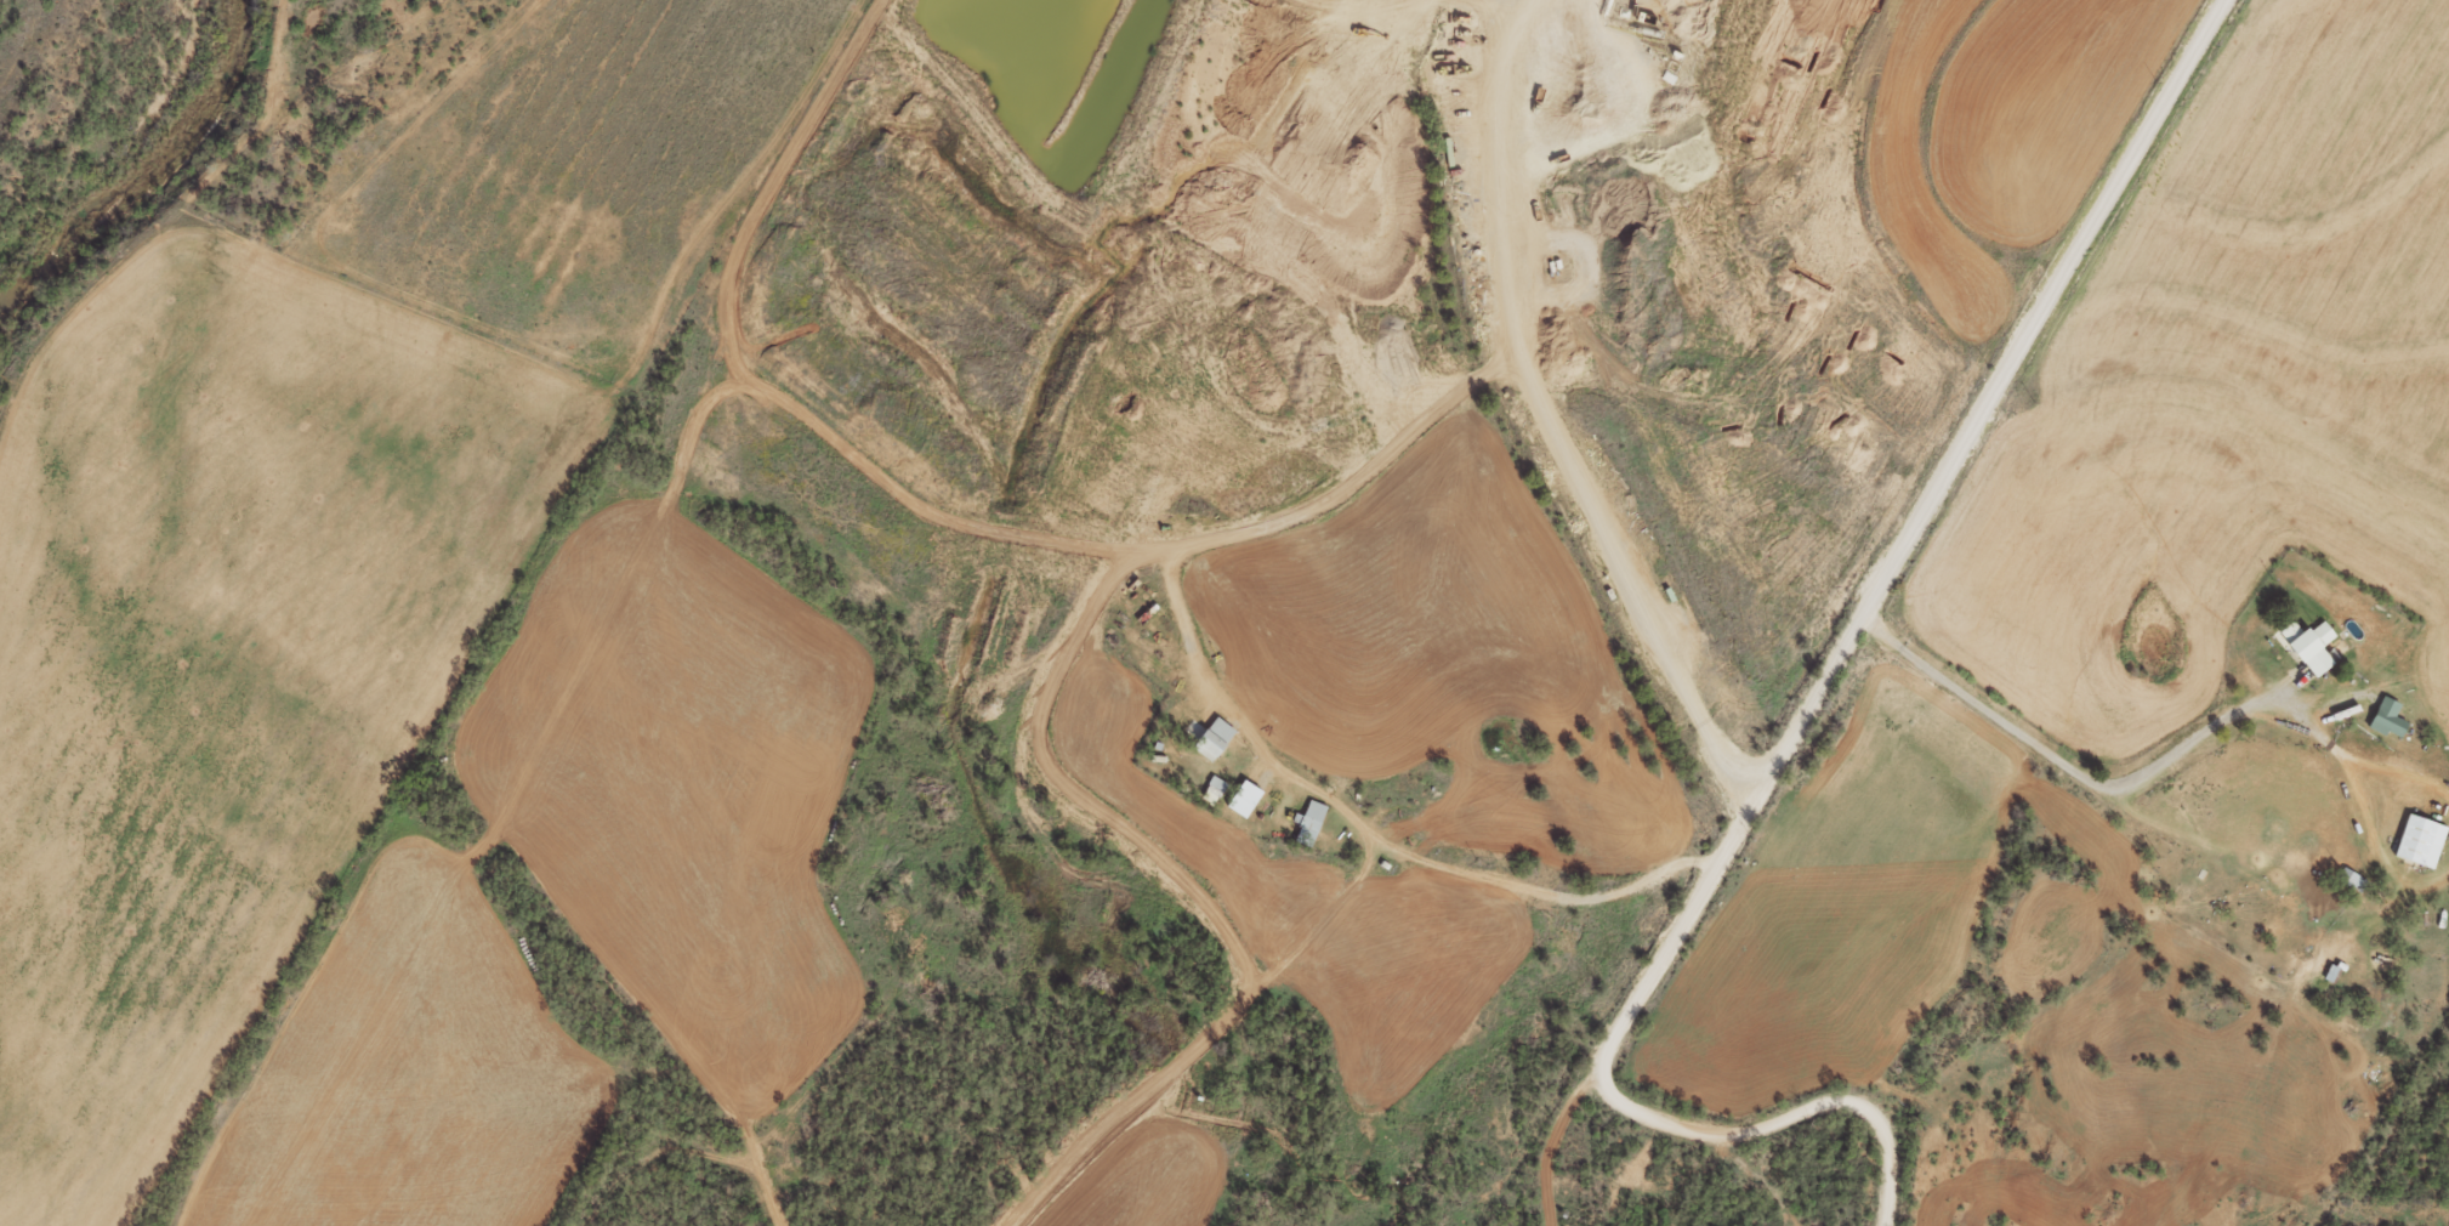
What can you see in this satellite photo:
river: (144, 158)
road: (1880, 598)
building: (2319, 647)
building: (2392, 717)
building: (1220, 739)
building: (2425, 840)
road: (1282, 890)
road: (2041, 907)
road: (1036, 972)
road: (2121, 1045)
road: (789, 1135)

